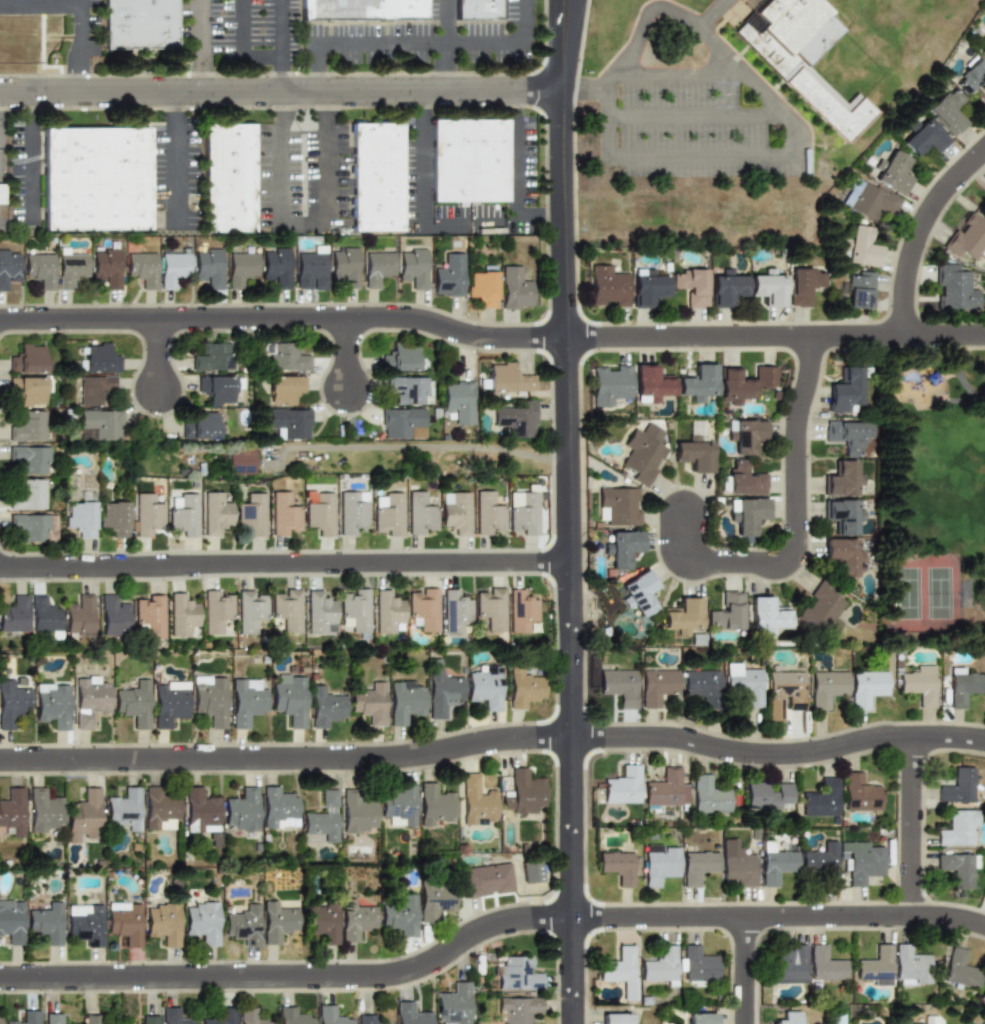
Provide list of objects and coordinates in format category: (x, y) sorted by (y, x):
road: (41, 7)
road: (682, 7)
building: (366, 10)
building: (481, 10)
road: (712, 14)
building: (140, 23)
road: (628, 39)
road: (419, 43)
road: (239, 44)
road: (199, 45)
road: (445, 45)
road: (83, 46)
building: (982, 48)
building: (805, 57)
road: (304, 73)
road: (637, 75)
building: (973, 77)
road: (583, 88)
road: (279, 92)
road: (778, 108)
building: (949, 111)
road: (697, 116)
parking lot: (698, 123)
building: (925, 137)
road: (24, 156)
road: (419, 156)
building: (471, 158)
road: (172, 159)
building: (893, 171)
building: (94, 175)
building: (230, 175)
building: (379, 175)
road: (517, 178)
building: (983, 193)
building: (1, 194)
building: (870, 199)
road: (275, 200)
road: (545, 217)
road: (919, 230)
building: (969, 238)
building: (860, 246)
building: (208, 266)
building: (276, 266)
building: (9, 267)
building: (107, 267)
building: (174, 267)
building: (344, 267)
building: (413, 267)
building: (377, 268)
building: (40, 269)
building: (142, 269)
building: (240, 269)
building: (71, 270)
building: (311, 270)
building: (449, 276)
building: (803, 285)
building: (607, 286)
building: (690, 286)
building: (767, 287)
building: (482, 288)
building: (514, 288)
building: (725, 288)
building: (954, 288)
building: (646, 289)
building: (860, 289)
road: (282, 317)
road: (773, 336)
road: (346, 352)
road: (157, 354)
building: (213, 357)
building: (289, 357)
building: (402, 357)
building: (29, 358)
building: (98, 358)
building: (505, 379)
building: (741, 382)
building: (696, 383)
building: (608, 384)
building: (649, 385)
building: (28, 389)
building: (93, 389)
building: (217, 389)
building: (284, 389)
building: (410, 389)
building: (843, 389)
building: (458, 401)
building: (515, 418)
building: (289, 422)
building: (402, 423)
building: (100, 424)
building: (201, 425)
building: (29, 426)
building: (845, 433)
building: (743, 434)
road: (424, 447)
building: (692, 454)
building: (640, 456)
building: (31, 458)
building: (239, 461)
building: (743, 478)
building: (841, 478)
building: (30, 494)
park: (932, 497)
building: (617, 505)
road: (565, 511)
building: (349, 512)
building: (146, 513)
building: (182, 513)
building: (214, 513)
building: (319, 513)
building: (419, 513)
building: (455, 513)
building: (487, 513)
building: (522, 513)
building: (251, 514)
building: (283, 514)
building: (386, 514)
building: (745, 514)
building: (840, 514)
building: (81, 517)
building: (114, 517)
road: (794, 519)
building: (31, 526)
building: (621, 547)
building: (841, 555)
road: (283, 562)
building: (638, 592)
building: (488, 607)
building: (820, 607)
building: (285, 608)
building: (421, 608)
building: (216, 609)
building: (250, 609)
building: (353, 610)
building: (453, 610)
building: (385, 611)
building: (519, 611)
building: (728, 611)
building: (318, 612)
building: (14, 613)
building: (44, 613)
building: (80, 614)
building: (113, 614)
building: (149, 614)
building: (181, 614)
building: (766, 614)
building: (682, 615)
building: (743, 683)
building: (916, 684)
building: (702, 685)
building: (962, 685)
building: (619, 686)
building: (657, 686)
building: (785, 686)
building: (485, 687)
building: (524, 687)
building: (865, 687)
building: (824, 688)
building: (442, 694)
building: (89, 698)
building: (288, 698)
building: (209, 699)
building: (404, 699)
building: (246, 701)
building: (12, 702)
building: (54, 704)
building: (169, 704)
building: (369, 704)
building: (133, 705)
building: (324, 708)
road: (494, 741)
building: (622, 784)
building: (955, 786)
building: (665, 790)
building: (858, 792)
building: (524, 793)
building: (708, 794)
building: (766, 795)
building: (818, 799)
building: (476, 801)
building: (399, 805)
building: (435, 805)
building: (125, 808)
building: (278, 808)
building: (160, 809)
building: (12, 810)
building: (201, 810)
building: (241, 810)
building: (44, 811)
building: (357, 814)
building: (83, 816)
building: (322, 818)
road: (909, 823)
building: (957, 828)
building: (861, 859)
building: (660, 862)
building: (821, 862)
building: (774, 863)
building: (737, 864)
building: (698, 865)
building: (617, 867)
building: (958, 867)
building: (531, 871)
building: (486, 879)
building: (434, 900)
building: (400, 916)
building: (355, 920)
building: (12, 921)
building: (124, 921)
building: (202, 921)
building: (321, 921)
building: (86, 922)
building: (277, 922)
building: (47, 923)
building: (163, 923)
building: (244, 924)
road: (487, 927)
building: (791, 963)
building: (826, 964)
building: (876, 965)
building: (698, 966)
building: (660, 967)
building: (912, 967)
building: (961, 969)
building: (623, 970)
road: (743, 970)
building: (517, 974)
building: (982, 997)
building: (453, 1003)
building: (517, 1009)
building: (411, 1014)
building: (293, 1015)
building: (332, 1015)
building: (175, 1016)
building: (253, 1016)
building: (27, 1017)
building: (221, 1017)
building: (791, 1017)
building: (0, 1018)
building: (56, 1018)
building: (615, 1018)
building: (700, 1018)
building: (89, 1019)
building: (366, 1019)
building: (931, 1019)
building: (152, 1020)
building: (900, 1023)

